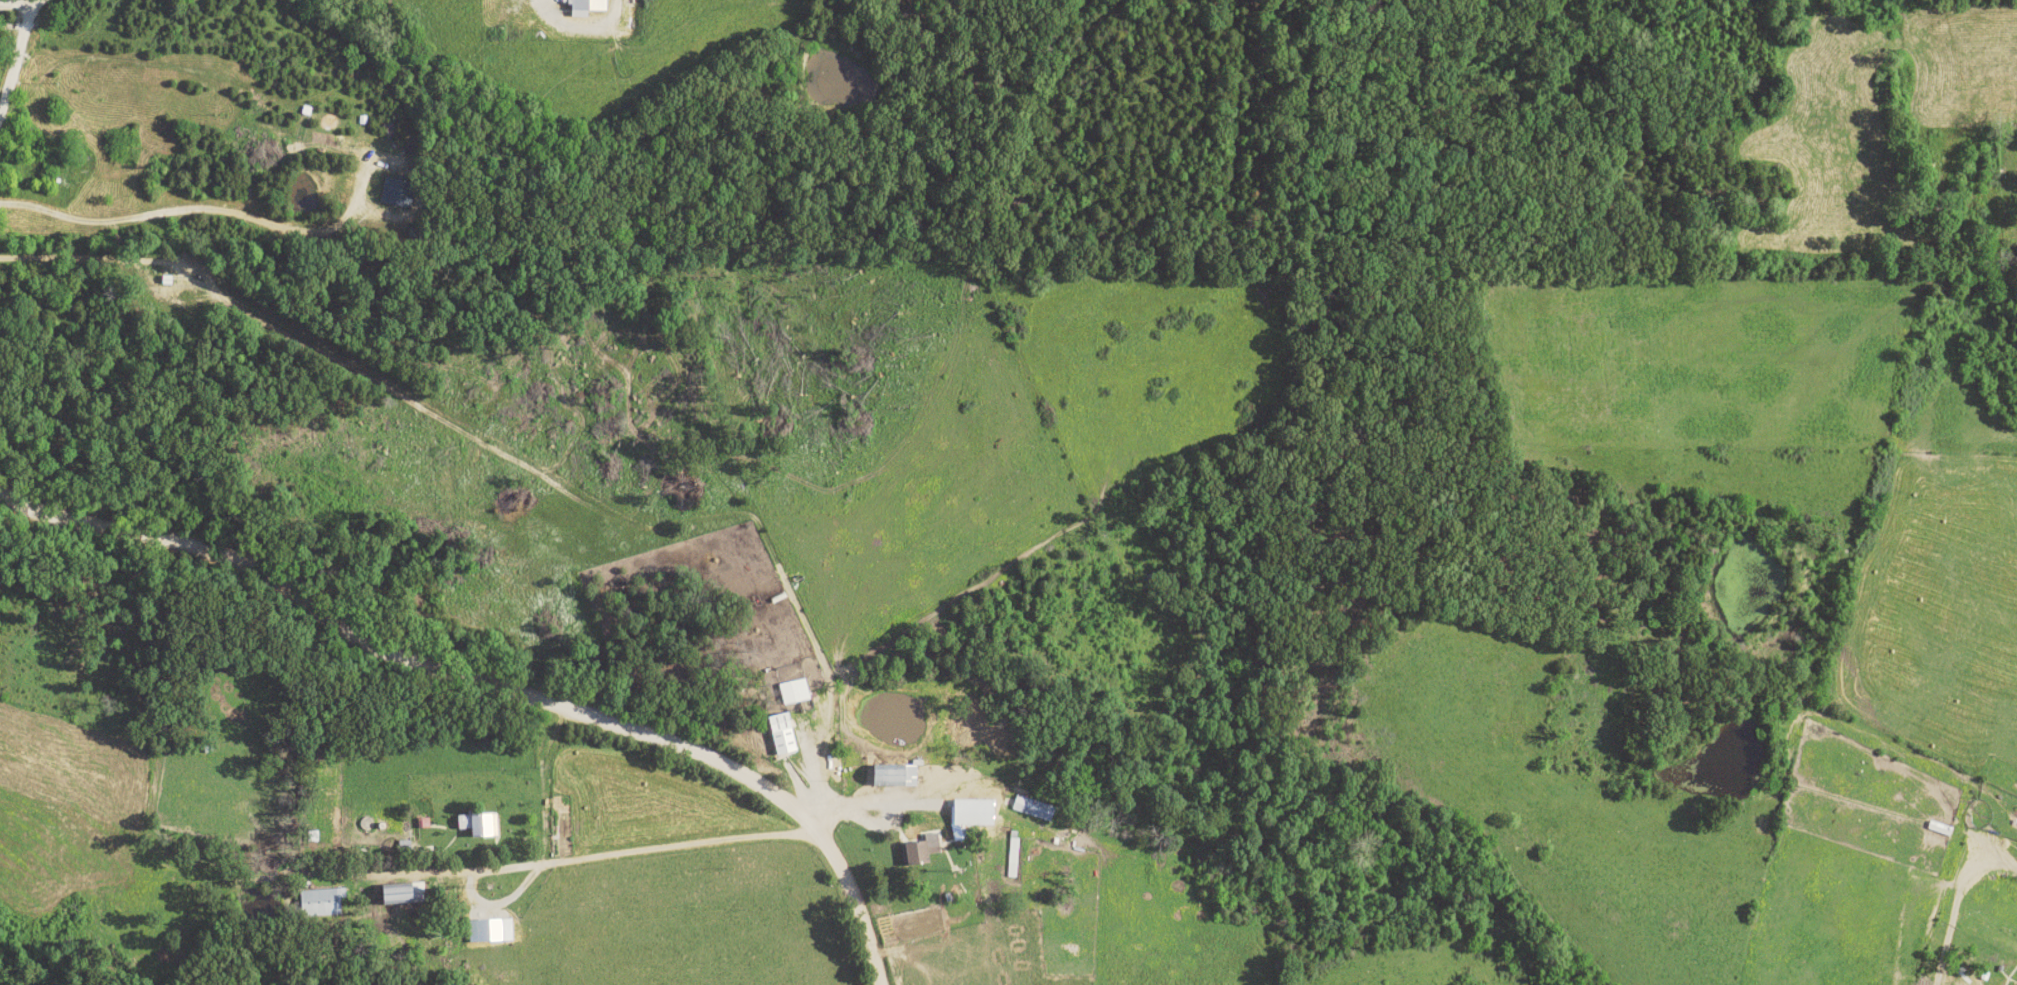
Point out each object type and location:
road: (9, 3)
road: (829, 4)
building: (584, 7)
road: (1235, 8)
building: (396, 194)
road: (486, 686)
building: (793, 692)
building: (780, 734)
building: (891, 776)
road: (850, 803)
building: (1031, 809)
building: (967, 817)
building: (475, 825)
building: (919, 849)
building: (1011, 865)
building: (396, 894)
road: (1951, 901)
building: (319, 902)
road: (908, 907)
building: (488, 931)

